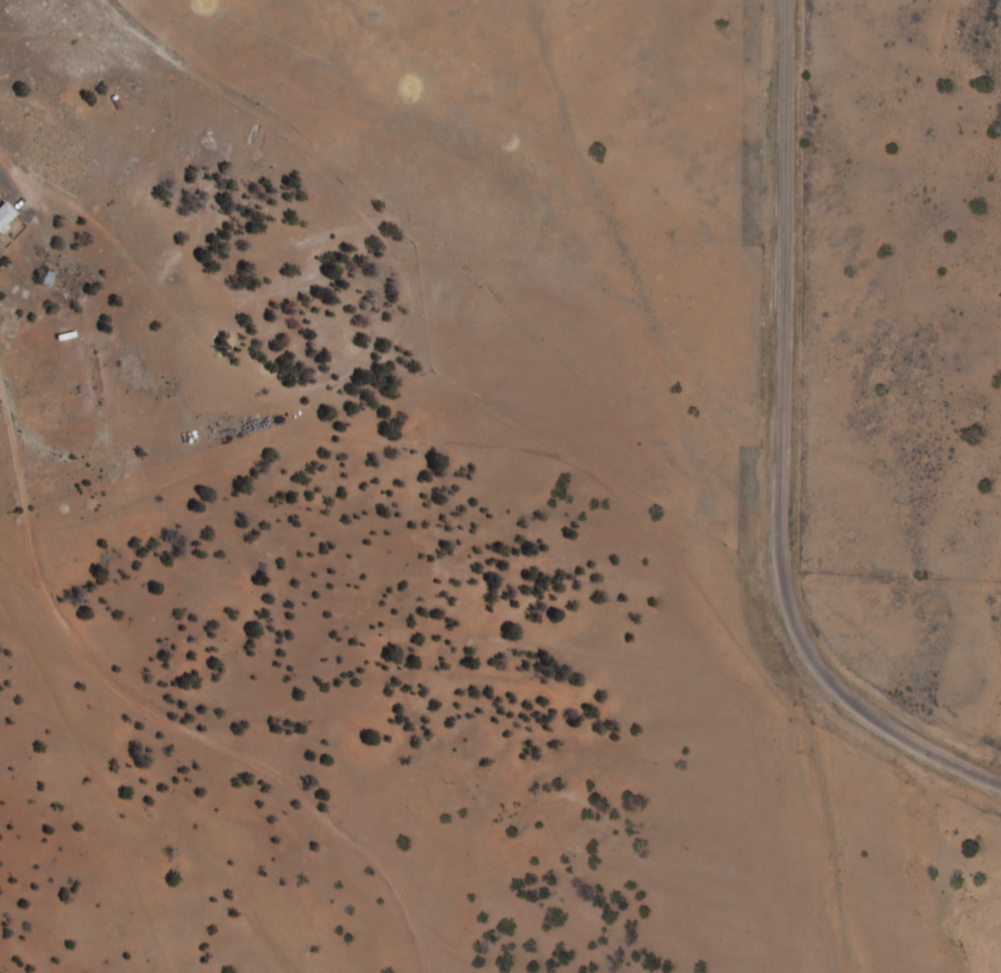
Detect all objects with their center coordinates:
building: (5, 215)
road: (781, 447)

